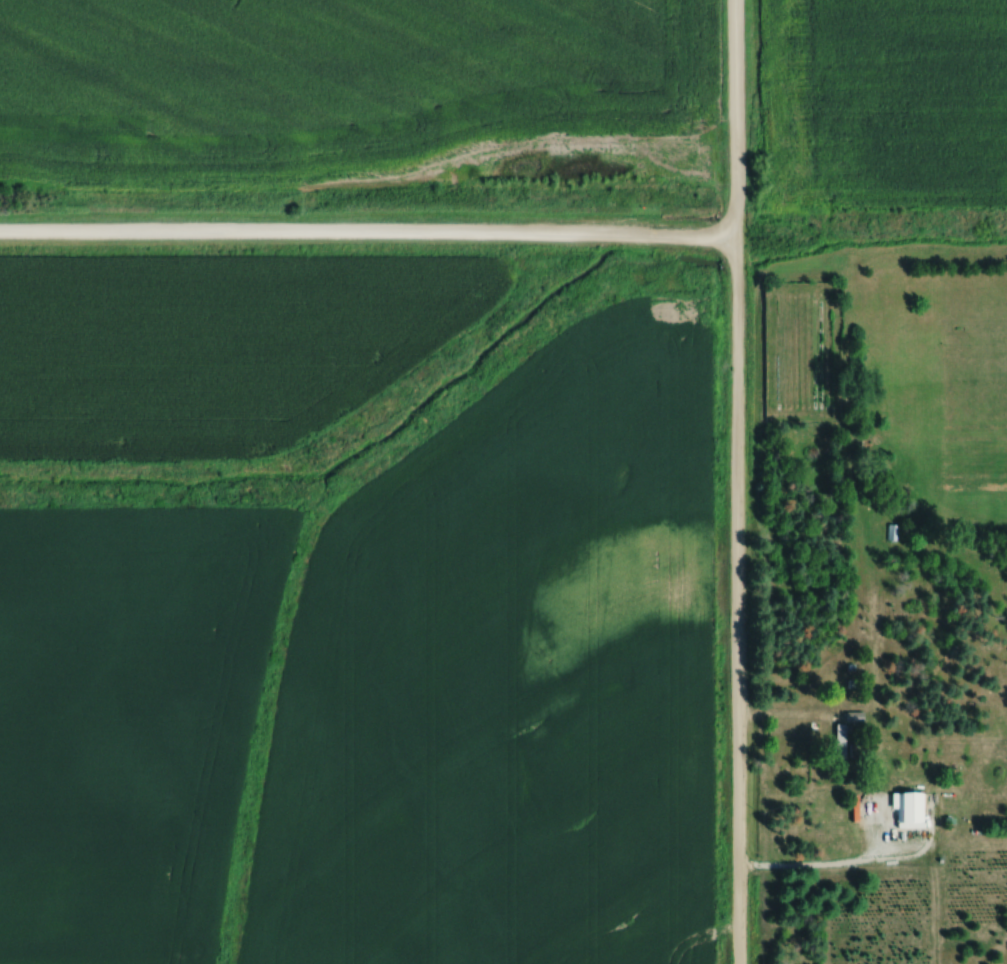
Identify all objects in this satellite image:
road: (367, 238)
road: (736, 482)
building: (893, 531)
building: (846, 733)
building: (912, 806)
road: (832, 869)

